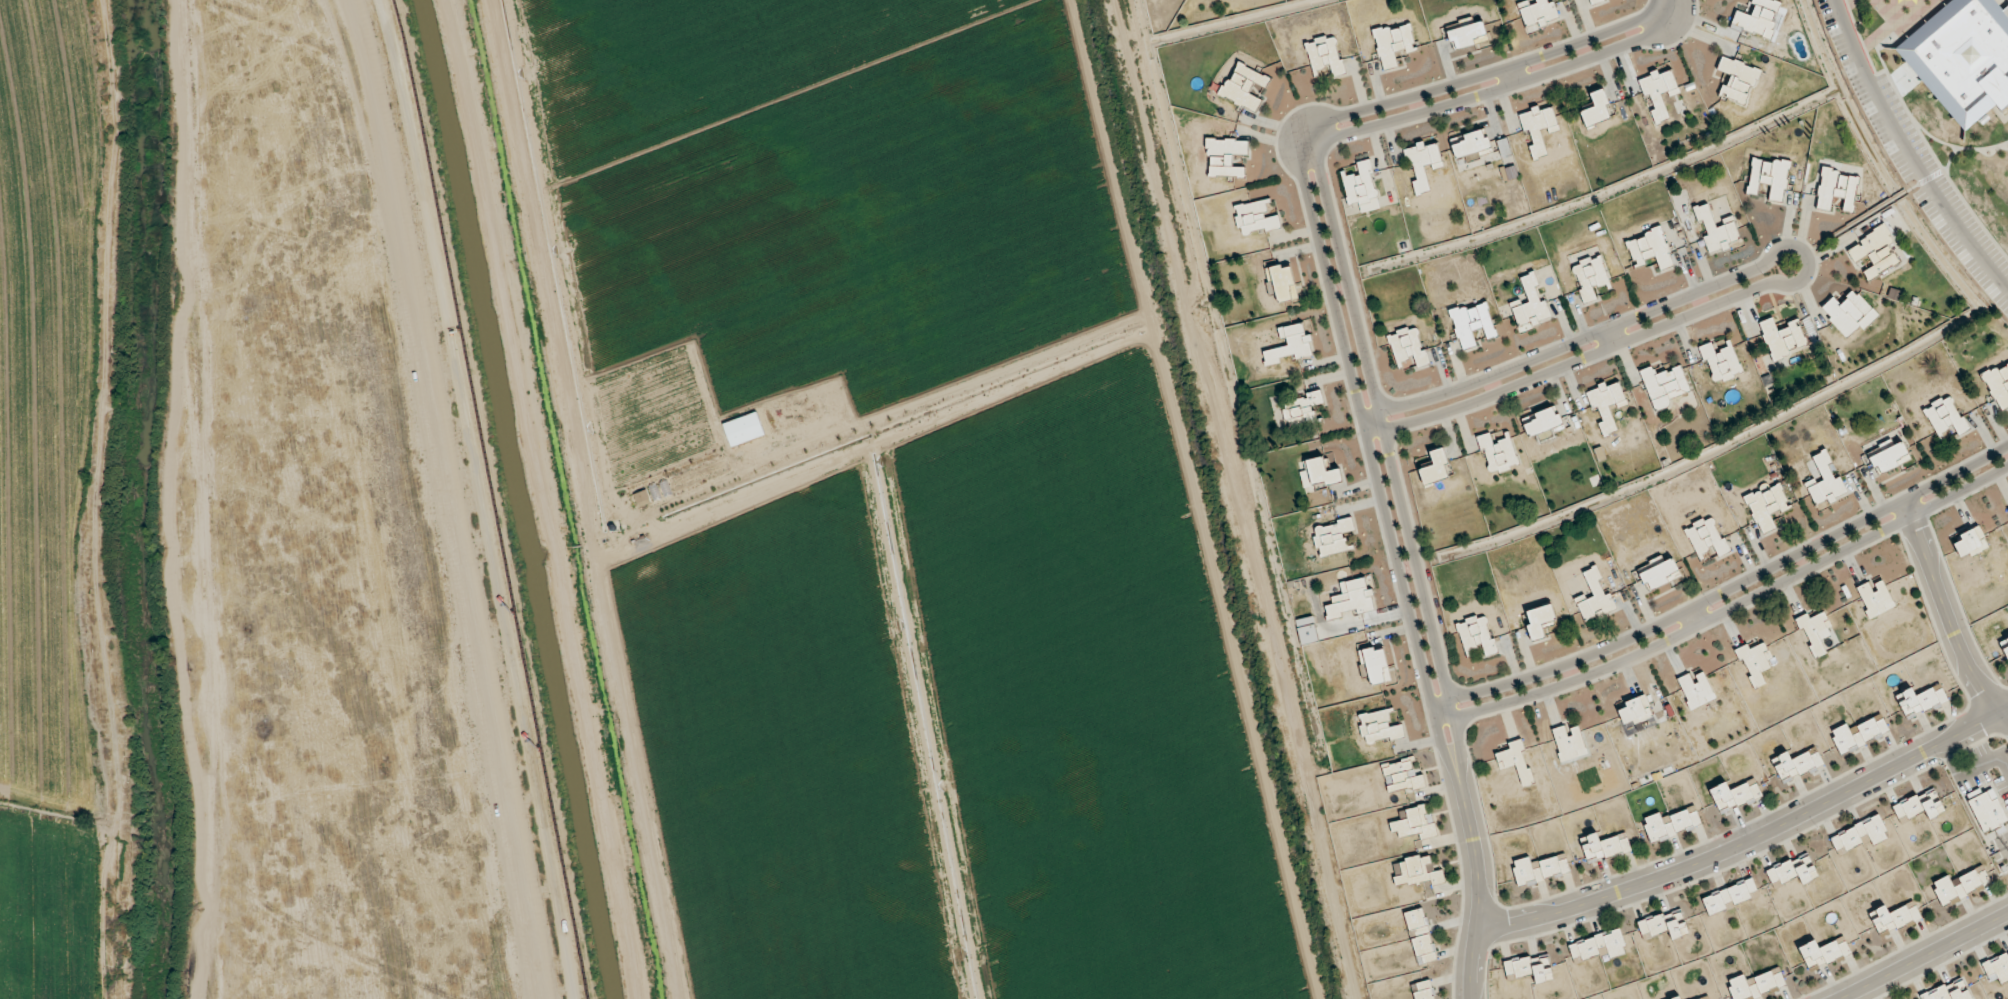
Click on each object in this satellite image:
building: (1595, 1)
road: (1659, 8)
building: (1538, 13)
building: (1757, 18)
building: (1467, 35)
building: (1394, 45)
building: (1325, 56)
building: (1963, 58)
road: (1513, 73)
building: (1737, 81)
building: (1244, 88)
building: (1658, 93)
building: (1596, 109)
building: (1538, 128)
road: (1314, 141)
building: (1472, 146)
road: (1907, 155)
building: (1225, 158)
building: (1422, 165)
building: (1768, 178)
building: (1362, 188)
building: (1837, 190)
building: (1254, 219)
building: (1716, 231)
building: (1649, 250)
building: (1875, 253)
road: (1806, 256)
building: (1590, 277)
building: (1283, 283)
building: (1531, 305)
building: (1849, 313)
building: (1472, 324)
road: (1611, 336)
building: (1781, 338)
building: (1290, 345)
building: (1408, 347)
building: (1720, 363)
road: (1352, 380)
road: (1371, 382)
building: (1998, 385)
building: (1663, 386)
building: (1606, 404)
building: (1301, 410)
building: (1945, 417)
building: (1541, 422)
building: (1498, 455)
building: (1890, 458)
building: (1436, 469)
building: (1323, 473)
building: (1825, 482)
river: (137, 500)
building: (1766, 506)
building: (1332, 538)
building: (1706, 538)
building: (1970, 543)
building: (1660, 575)
road: (1727, 589)
building: (1875, 598)
building: (1352, 599)
road: (1729, 610)
road: (1947, 616)
building: (1539, 621)
building: (1817, 633)
building: (1477, 635)
building: (1754, 663)
building: (1377, 666)
building: (1696, 690)
building: (1921, 701)
building: (1634, 710)
building: (1379, 728)
building: (1858, 735)
building: (1569, 743)
building: (1797, 765)
building: (1402, 776)
building: (1734, 796)
building: (1919, 806)
building: (1988, 811)
building: (1415, 823)
building: (1670, 824)
building: (1860, 835)
road: (1745, 839)
building: (1604, 848)
building: (1539, 870)
building: (1793, 871)
building: (1416, 872)
building: (1960, 886)
building: (1730, 897)
building: (1895, 919)
building: (1664, 925)
building: (1421, 937)
building: (1598, 946)
building: (1823, 953)
road: (1915, 954)
building: (1997, 968)
building: (1539, 970)
building: (1756, 985)
building: (1423, 990)
building: (1948, 992)
building: (1677, 998)

